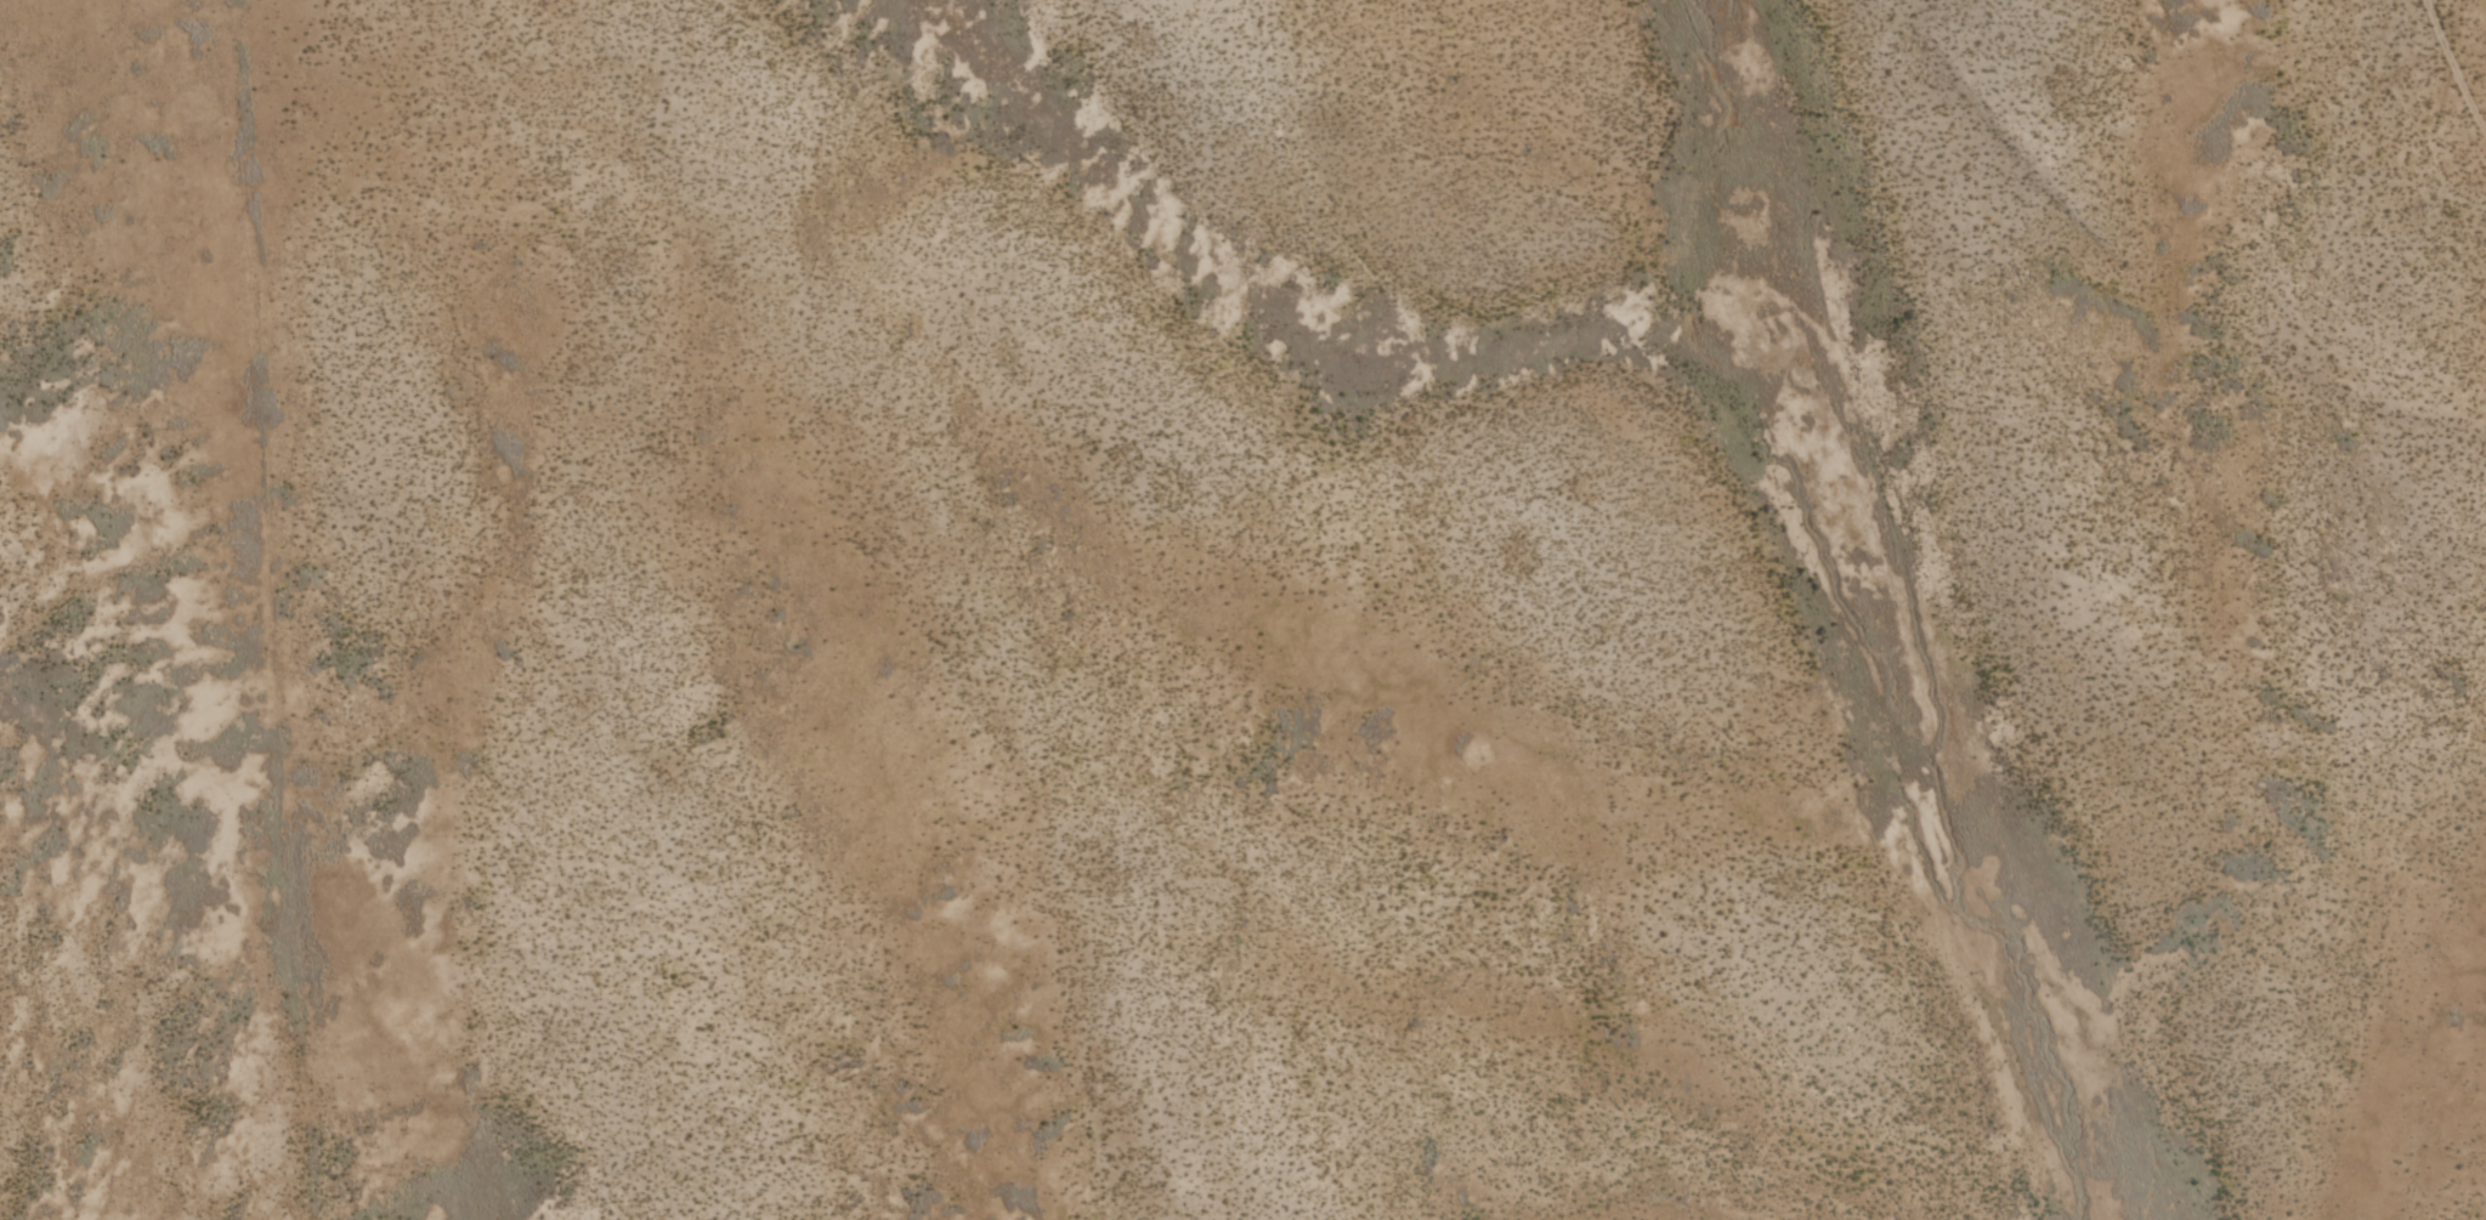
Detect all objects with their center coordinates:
road: (2434, 68)

